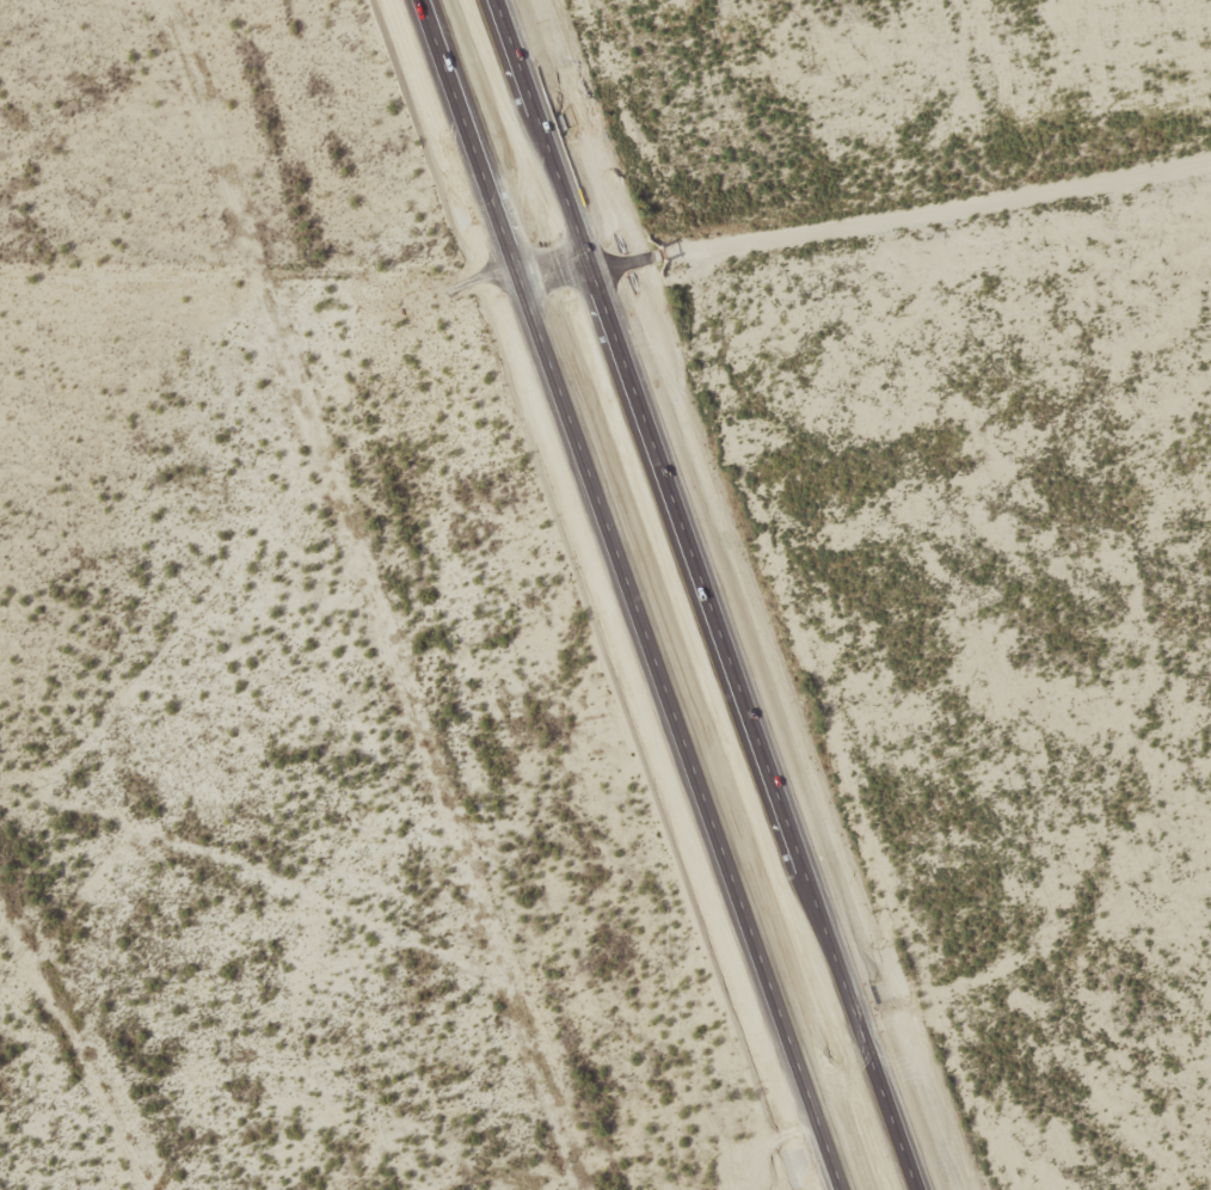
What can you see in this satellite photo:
road: (708, 594)
power tower: (33, 791)
power tower: (232, 869)
power tower: (397, 934)
power tower: (564, 999)
power tower: (783, 1086)

